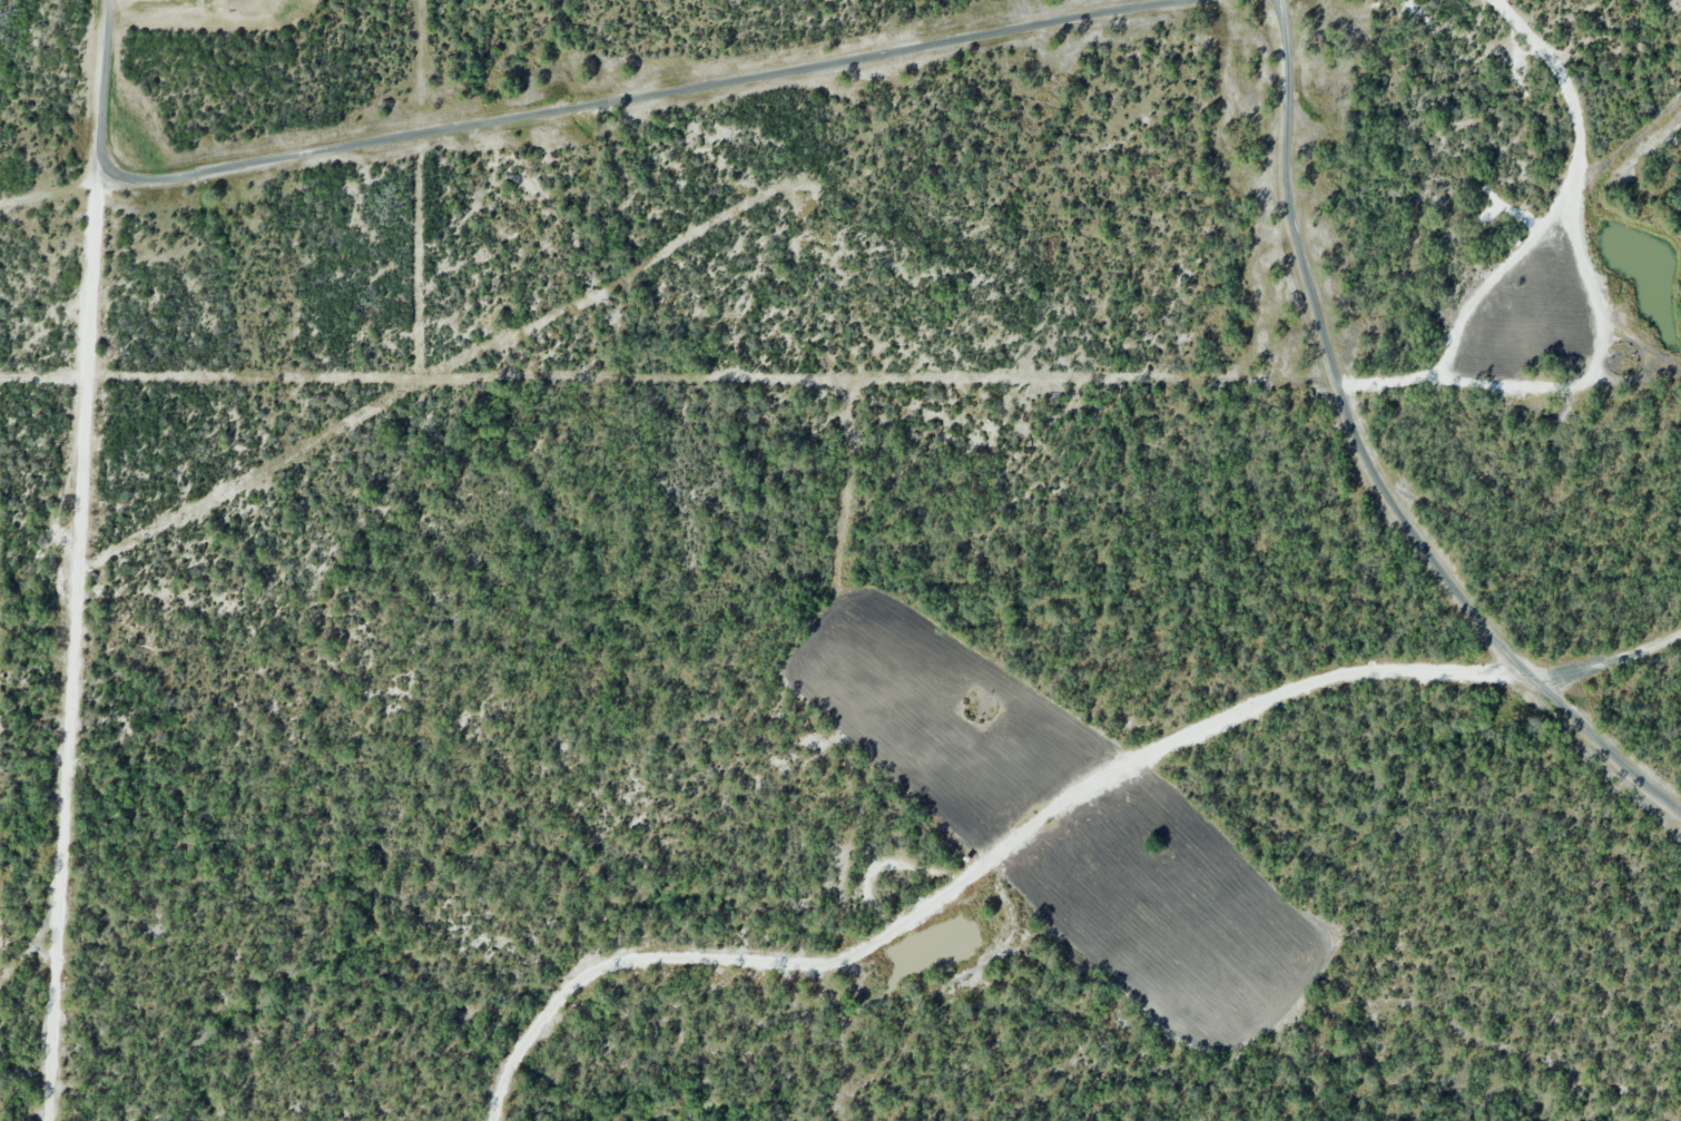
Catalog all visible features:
road: (559, 108)
road: (1536, 240)
road: (1366, 460)
road: (78, 642)
road: (1043, 819)

